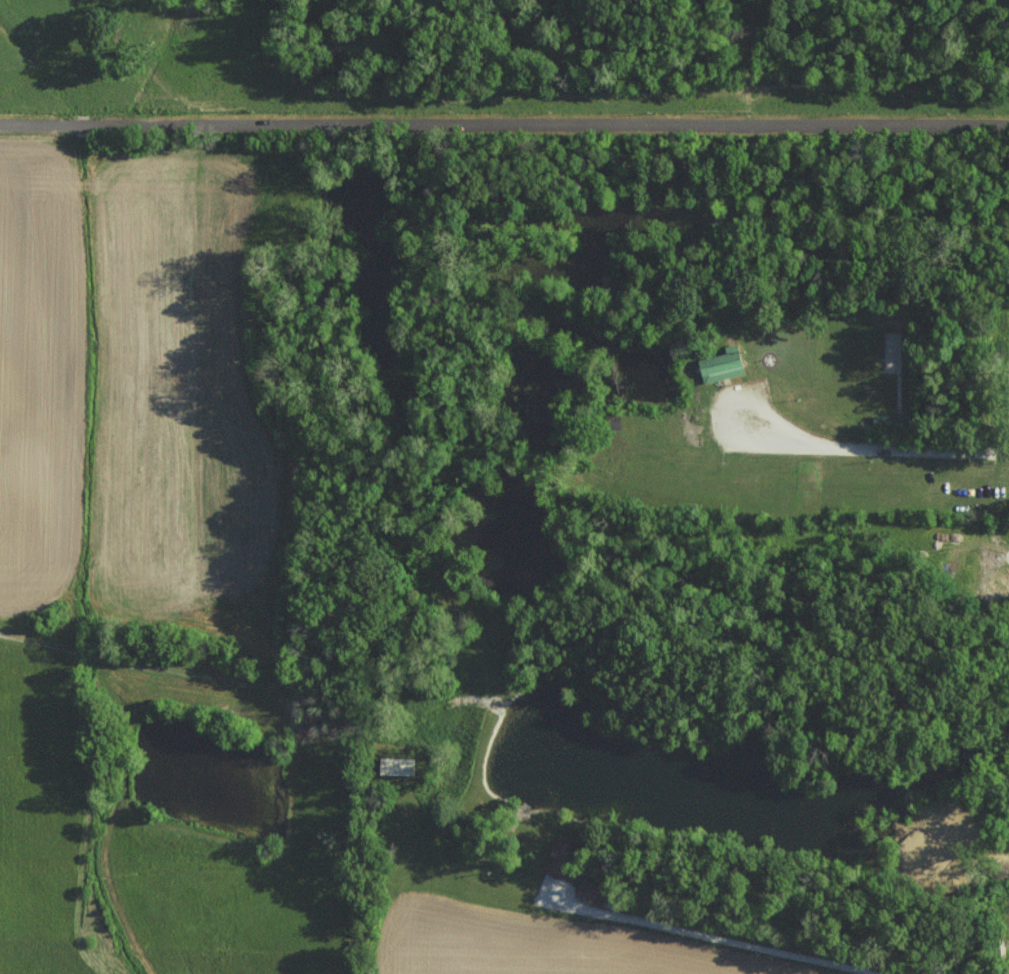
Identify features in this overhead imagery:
road: (504, 116)
building: (717, 365)
park: (1008, 401)
road: (868, 453)
road: (106, 660)
building: (560, 860)
building: (587, 889)
road: (683, 936)

